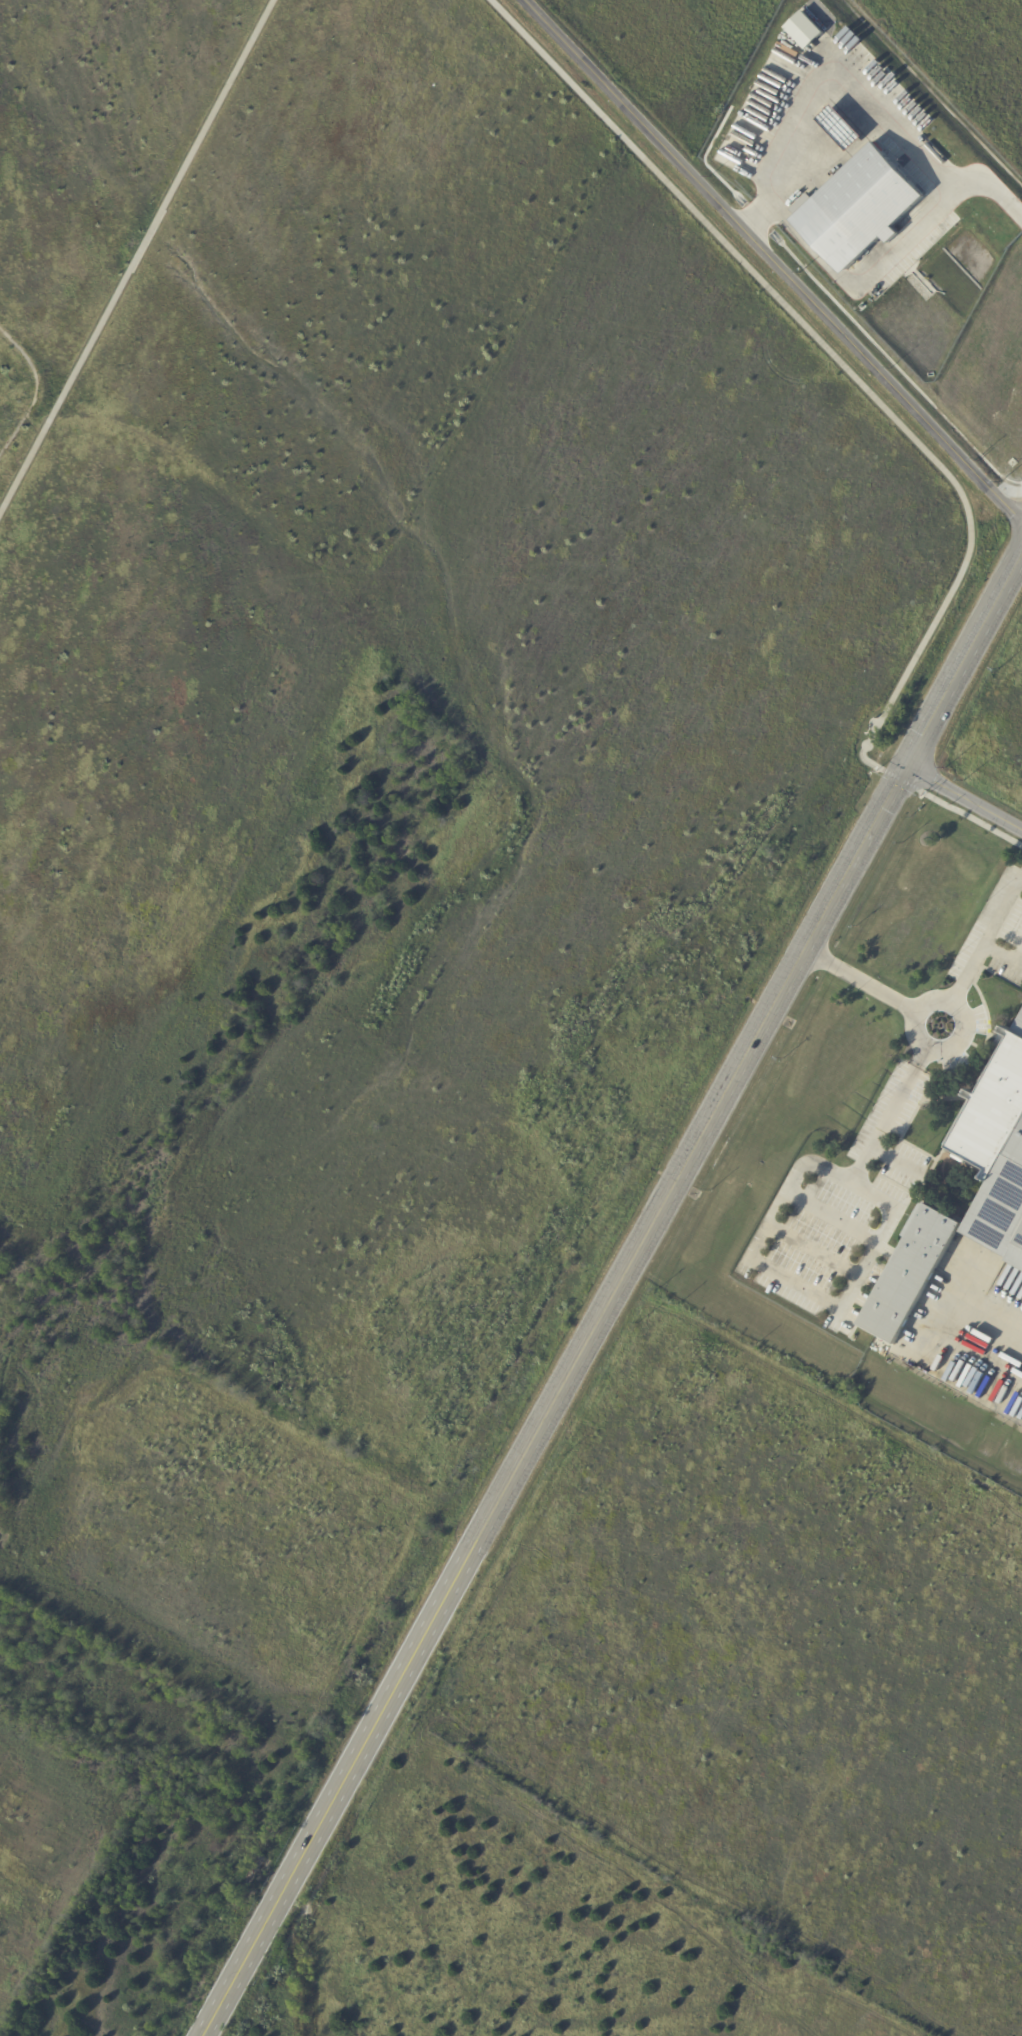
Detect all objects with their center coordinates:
building: (804, 29)
road: (852, 81)
building: (843, 127)
building: (860, 208)
road: (134, 253)
road: (776, 259)
road: (866, 274)
road: (841, 359)
road: (38, 391)
road: (965, 659)
road: (901, 779)
road: (965, 796)
road: (970, 817)
road: (1002, 908)
road: (1002, 951)
road: (1019, 955)
road: (965, 972)
road: (925, 1002)
building: (996, 1148)
road: (895, 1156)
road: (831, 1215)
road: (813, 1249)
building: (912, 1272)
road: (851, 1282)
road: (999, 1305)
road: (552, 1398)

